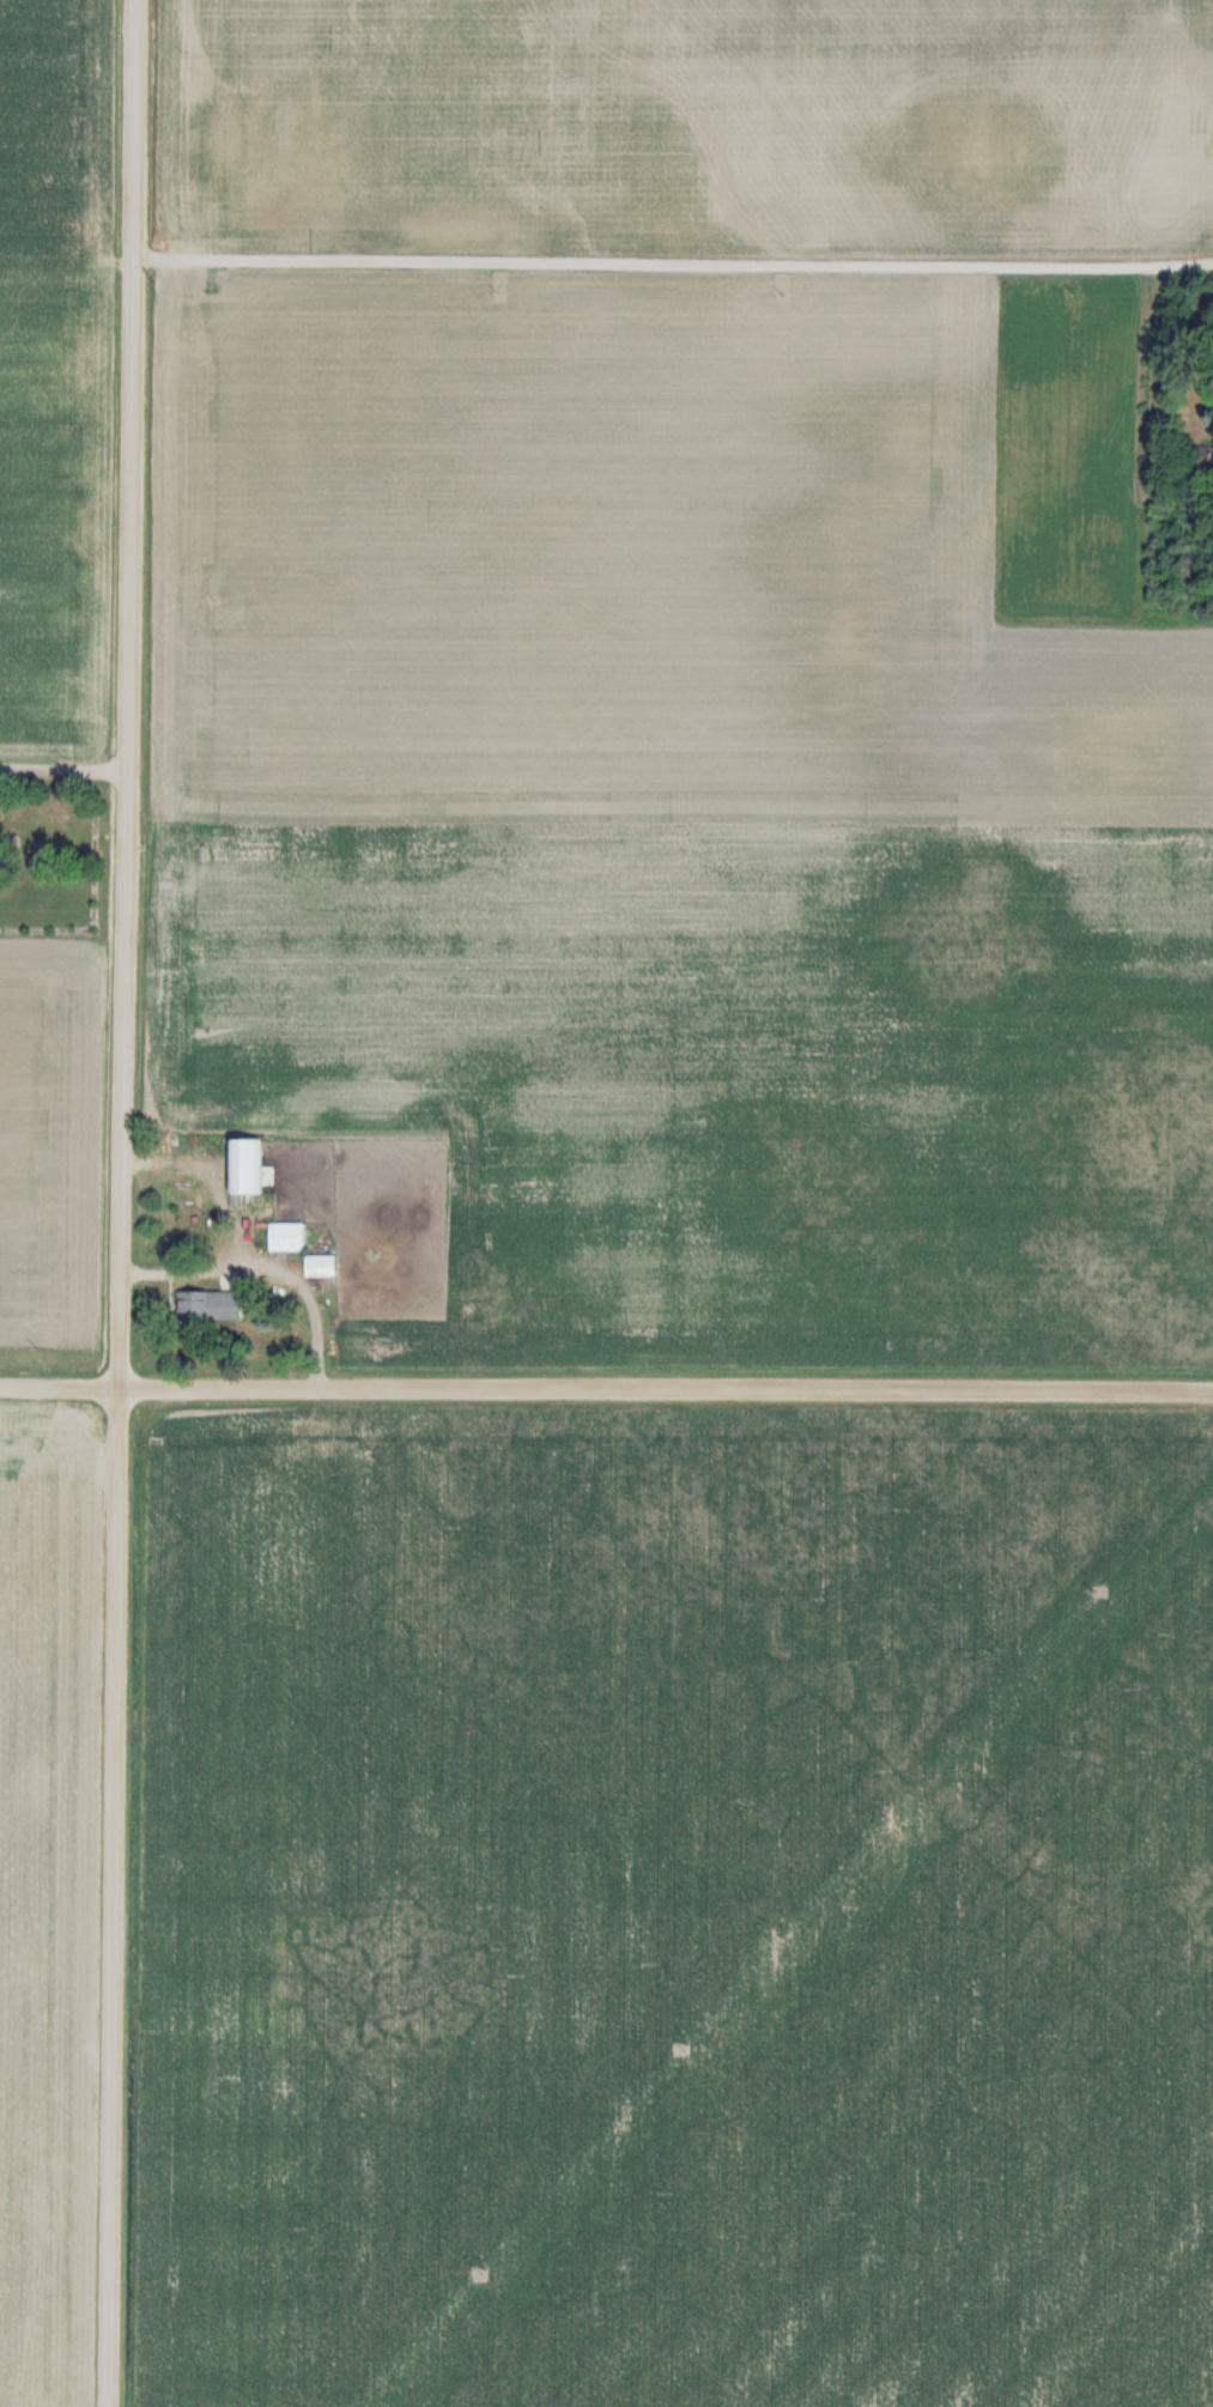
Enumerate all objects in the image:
road: (678, 267)
road: (67, 770)
building: (255, 1164)
road: (128, 1202)
building: (296, 1237)
building: (329, 1266)
building: (231, 1305)
road: (606, 1392)

